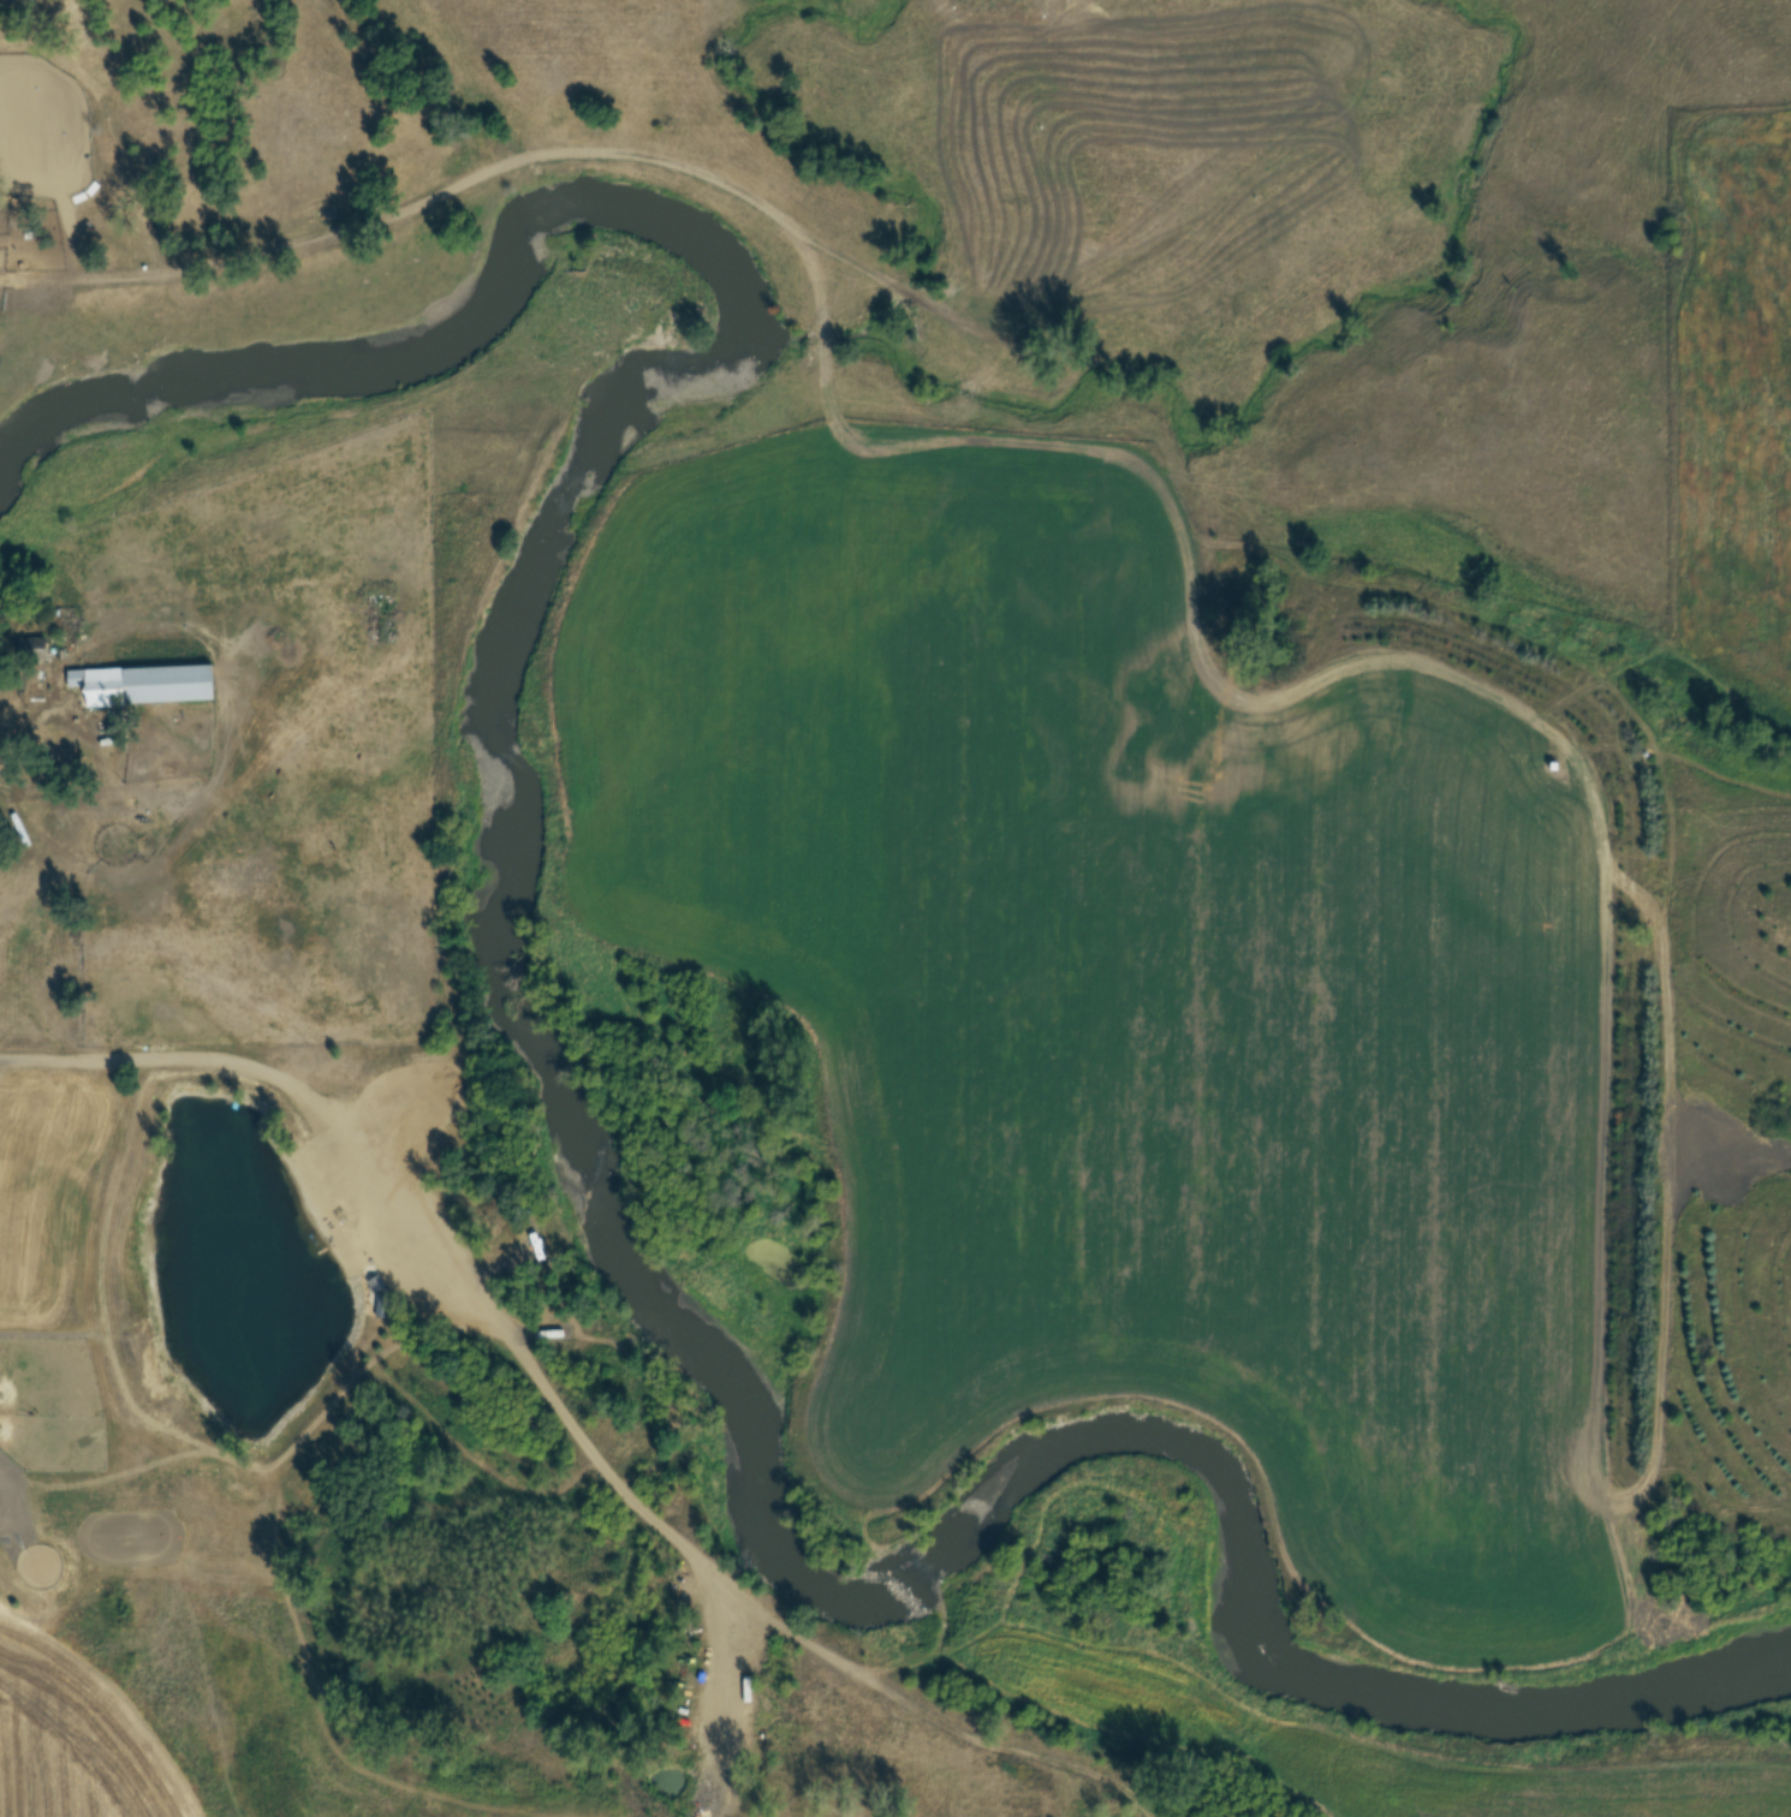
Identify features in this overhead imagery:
building: (35, 648)
building: (147, 685)
road: (20, 729)
river: (558, 1072)
road: (434, 1228)

